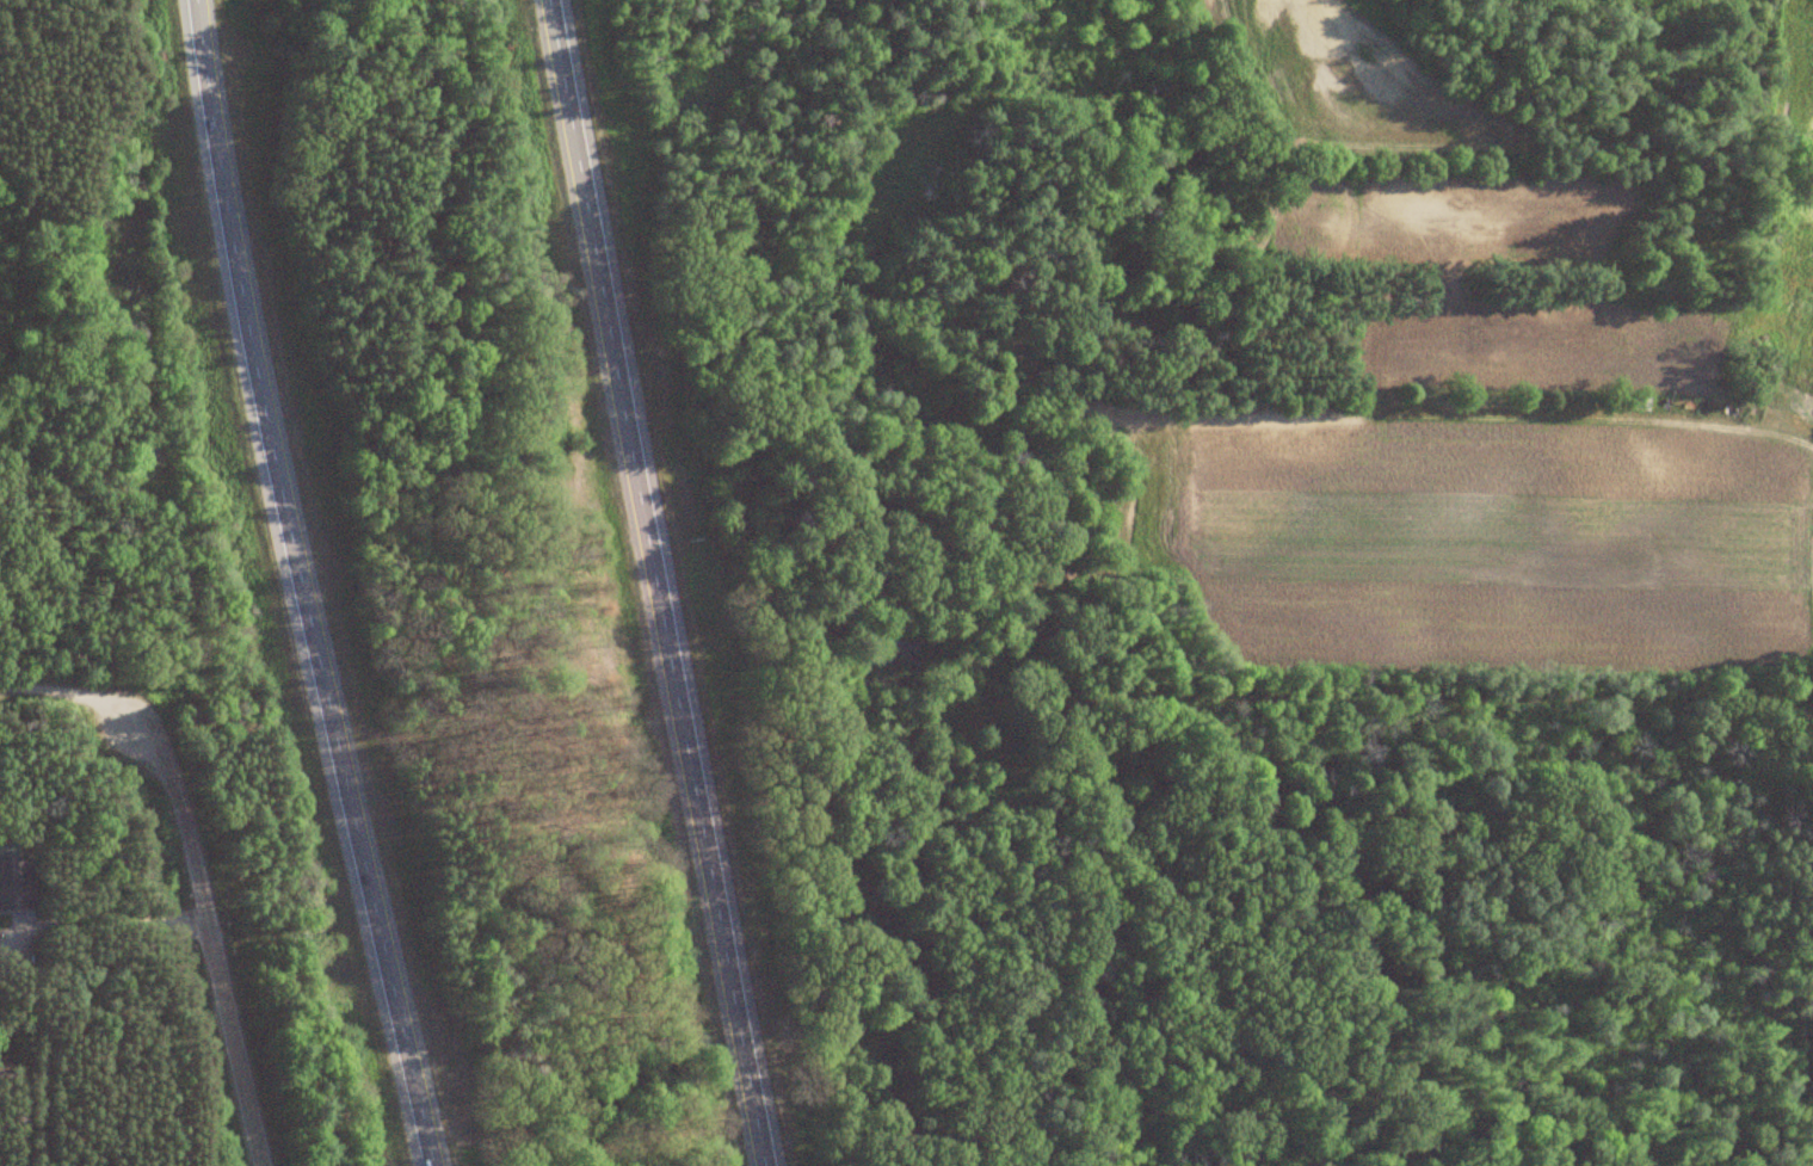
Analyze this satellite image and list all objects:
road: (655, 582)
road: (298, 585)
road: (1510, 748)
road: (183, 858)
building: (17, 881)

